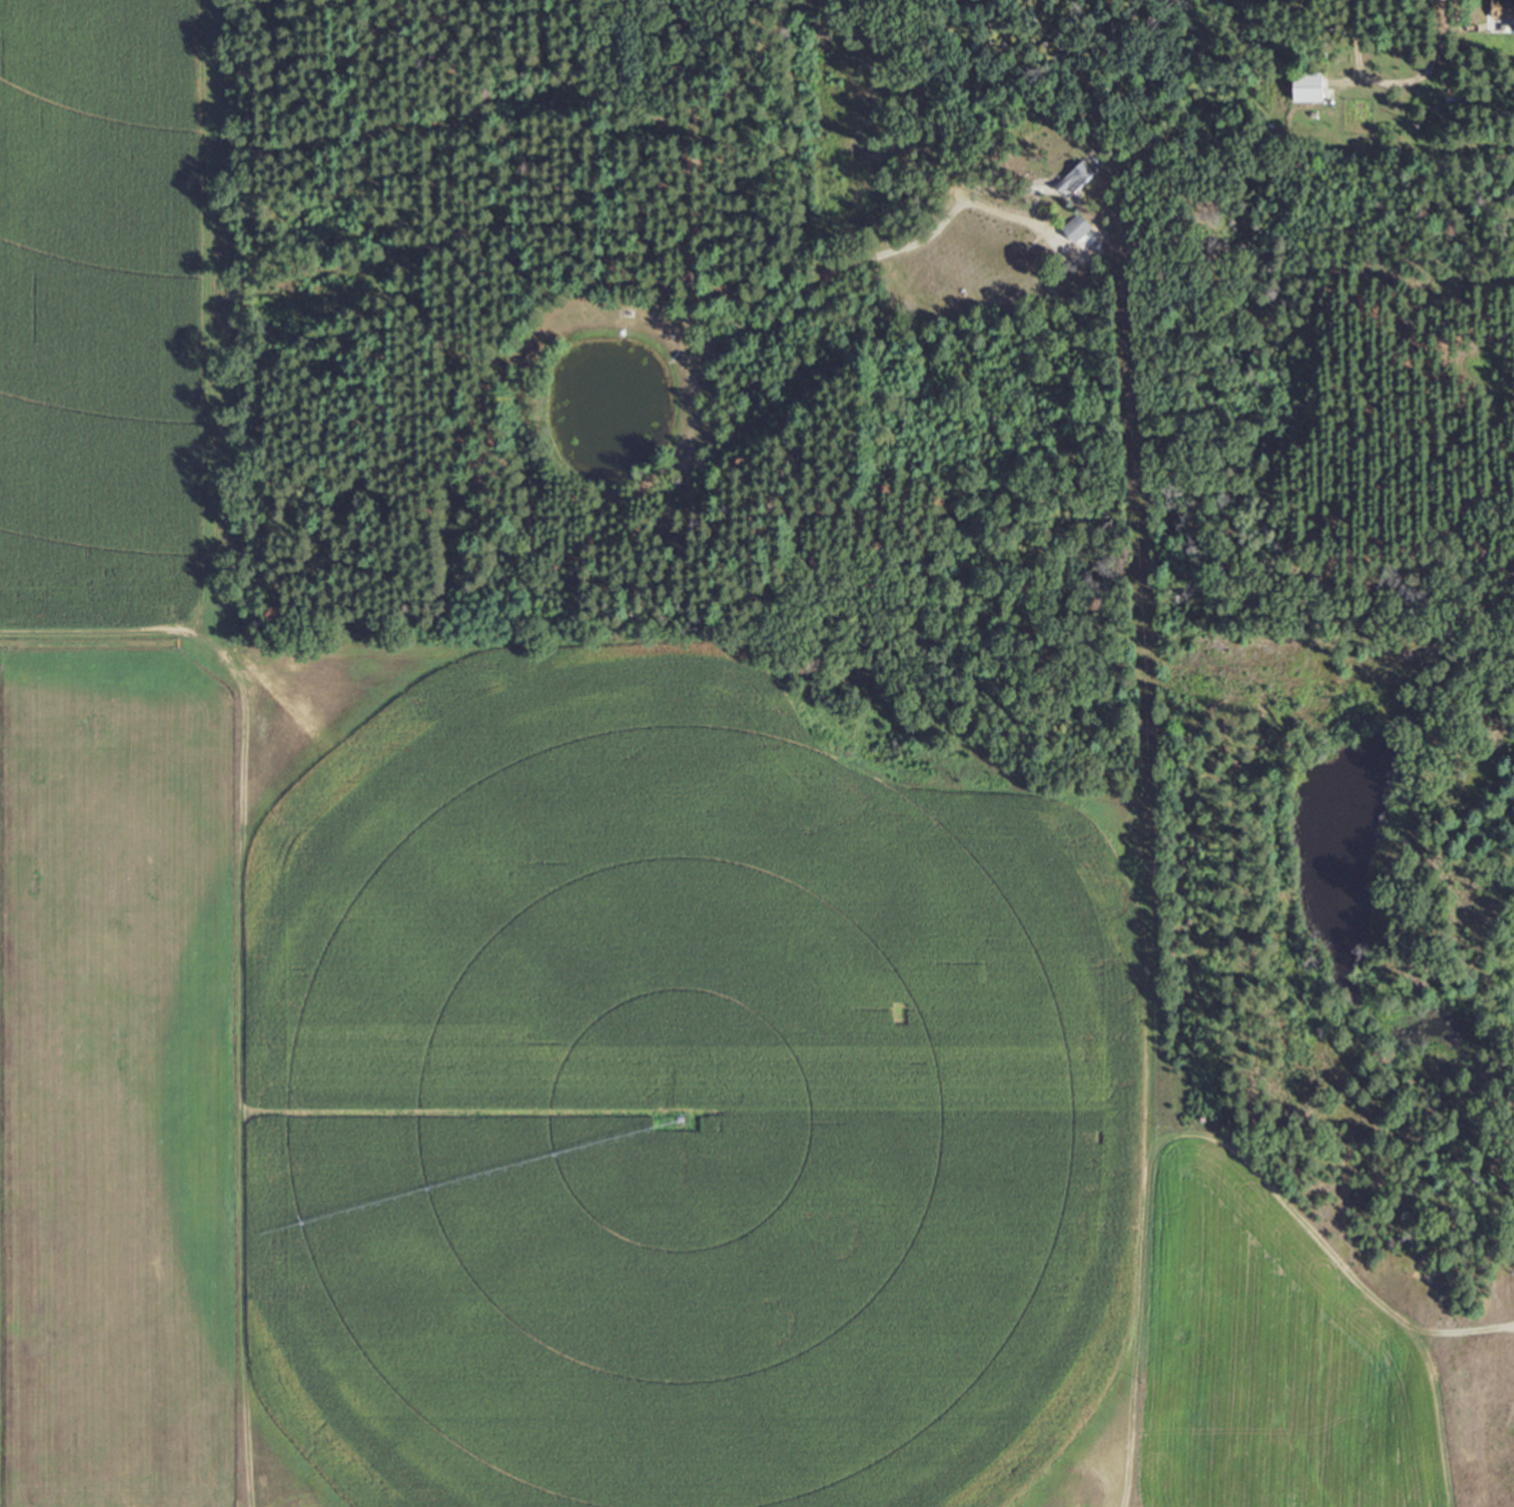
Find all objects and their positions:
building: (1503, 9)
road: (1387, 81)
building: (1306, 86)
building: (1073, 179)
building: (1074, 228)

